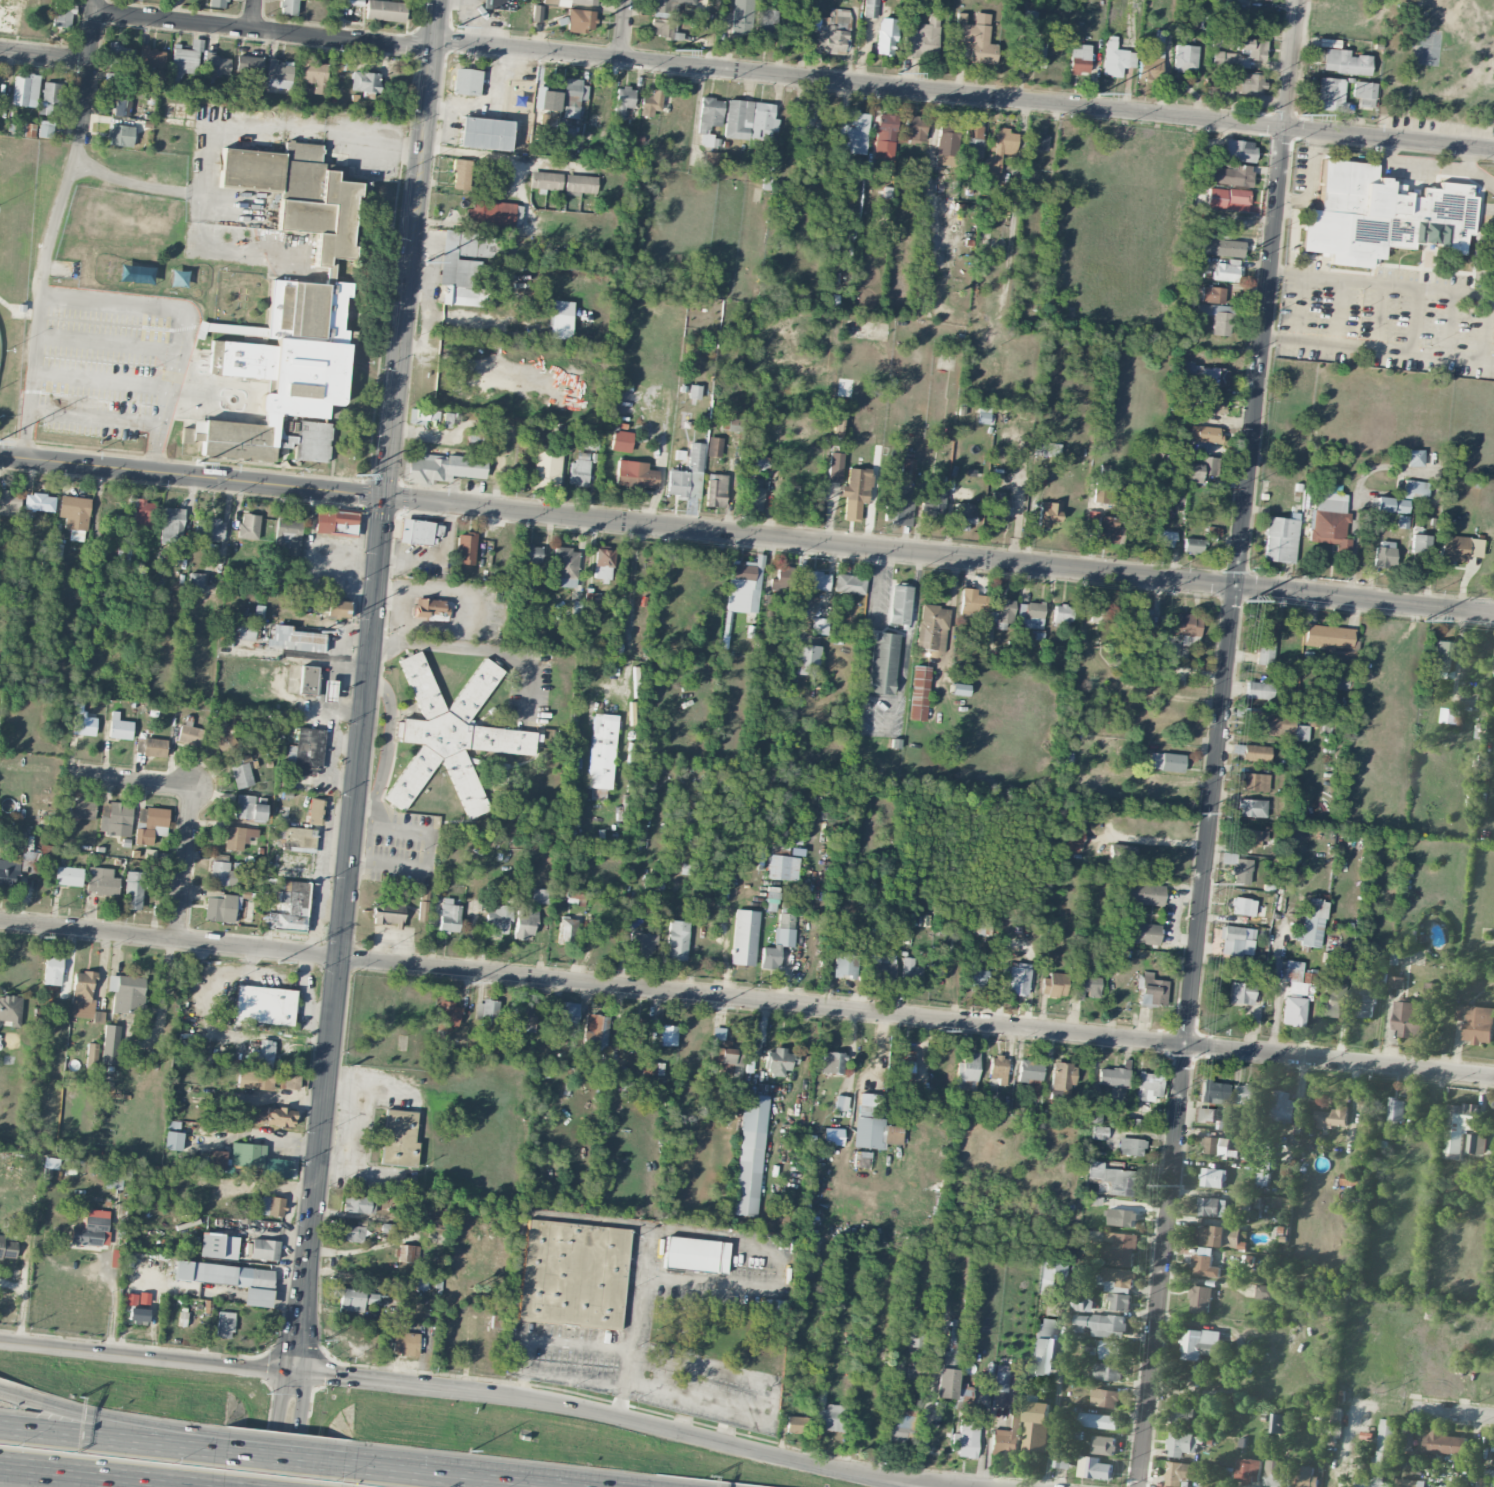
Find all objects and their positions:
building: (22, 2)
building: (568, 2)
building: (216, 3)
building: (788, 3)
building: (501, 4)
building: (288, 7)
building: (664, 7)
building: (871, 8)
building: (385, 10)
building: (537, 13)
building: (62, 14)
road: (254, 15)
building: (741, 17)
building: (1026, 17)
building: (580, 20)
road: (475, 21)
building: (765, 23)
road: (438, 24)
power tower: (446, 25)
building: (662, 27)
road: (624, 29)
building: (832, 31)
road: (265, 32)
building: (886, 36)
building: (922, 38)
building: (976, 39)
power tower: (670, 48)
building: (1255, 50)
building: (120, 54)
building: (1032, 54)
road: (45, 55)
building: (150, 57)
building: (1079, 58)
building: (1185, 58)
building: (1116, 59)
building: (186, 60)
park: (1412, 61)
building: (1344, 62)
building: (216, 64)
building: (250, 64)
road: (89, 65)
building: (1150, 65)
power tower: (897, 72)
building: (278, 74)
building: (314, 75)
building: (365, 81)
building: (466, 81)
building: (1246, 82)
building: (25, 90)
power tower: (1099, 92)
road: (965, 93)
building: (1217, 93)
building: (1364, 93)
building: (1331, 94)
building: (49, 97)
building: (573, 97)
building: (546, 99)
building: (623, 100)
building: (651, 104)
road: (492, 105)
building: (121, 107)
building: (709, 114)
power tower: (1301, 114)
building: (808, 117)
building: (749, 120)
road: (219, 126)
building: (916, 128)
building: (46, 129)
building: (29, 130)
building: (484, 133)
building: (854, 133)
building: (121, 135)
building: (885, 136)
building: (973, 140)
building: (1040, 142)
building: (946, 147)
building: (1239, 150)
building: (999, 151)
road: (506, 158)
road: (1467, 158)
building: (711, 159)
road: (1431, 166)
building: (461, 171)
building: (1230, 175)
road: (1311, 178)
building: (545, 181)
building: (580, 184)
building: (298, 193)
building: (1225, 197)
building: (490, 215)
building: (1382, 215)
building: (1221, 247)
building: (287, 251)
power tower: (422, 258)
building: (459, 271)
road: (1279, 271)
building: (1226, 272)
road: (1354, 280)
road: (420, 287)
road: (1493, 288)
road: (39, 291)
building: (1212, 294)
road: (429, 299)
road: (108, 301)
road: (1297, 307)
building: (1217, 317)
building: (560, 319)
building: (245, 330)
road: (1278, 339)
road: (106, 344)
road: (1394, 351)
building: (285, 374)
building: (1213, 376)
road: (100, 379)
road: (170, 389)
building: (694, 391)
building: (1209, 406)
building: (422, 416)
road: (103, 417)
building: (446, 420)
building: (1205, 434)
building: (621, 441)
building: (590, 442)
building: (714, 446)
building: (1046, 449)
building: (1415, 458)
power tower: (198, 461)
road: (661, 461)
building: (763, 463)
building: (547, 465)
building: (834, 467)
building: (443, 468)
building: (907, 468)
building: (1201, 469)
building: (578, 472)
building: (688, 474)
building: (635, 476)
power tower: (399, 484)
building: (715, 490)
building: (1415, 490)
building: (855, 492)
building: (1104, 494)
building: (755, 496)
traffic signals: (386, 497)
building: (932, 499)
building: (9, 502)
building: (39, 502)
building: (1382, 504)
building: (898, 506)
building: (1401, 506)
building: (997, 507)
road: (1355, 509)
building: (1048, 512)
building: (142, 513)
building: (963, 515)
building: (74, 516)
building: (1329, 522)
building: (335, 523)
building: (248, 526)
building: (171, 527)
building: (209, 528)
building: (1107, 530)
building: (416, 531)
building: (288, 534)
road: (746, 534)
building: (1164, 538)
building: (1280, 539)
building: (1420, 543)
building: (1192, 545)
building: (465, 548)
building: (1457, 549)
building: (532, 553)
building: (125, 554)
building: (1383, 557)
road: (441, 564)
building: (603, 564)
building: (565, 567)
power tower: (1223, 570)
building: (783, 580)
building: (813, 580)
building: (195, 582)
building: (687, 583)
building: (849, 584)
building: (740, 586)
building: (590, 597)
building: (754, 599)
power tower: (1247, 601)
building: (972, 602)
building: (1098, 602)
building: (899, 604)
road: (633, 607)
building: (337, 608)
building: (429, 609)
road: (461, 610)
building: (1001, 610)
building: (1061, 613)
building: (661, 615)
building: (675, 615)
building: (1029, 615)
building: (1140, 619)
power tower: (1423, 620)
building: (819, 626)
building: (932, 627)
building: (1184, 628)
building: (245, 631)
road: (395, 636)
building: (1328, 636)
building: (1264, 639)
building: (295, 640)
road: (470, 649)
building: (1442, 656)
building: (805, 659)
building: (882, 663)
building: (1493, 672)
building: (308, 680)
building: (1341, 682)
building: (959, 689)
building: (1259, 689)
building: (328, 690)
building: (918, 693)
road: (364, 711)
building: (1449, 716)
building: (82, 721)
building: (1273, 724)
building: (1326, 725)
building: (119, 727)
building: (450, 734)
building: (189, 735)
building: (225, 741)
road: (1219, 743)
building: (139, 745)
building: (154, 747)
building: (305, 751)
building: (1255, 753)
building: (601, 754)
building: (243, 758)
building: (1166, 761)
building: (241, 775)
road: (131, 780)
building: (1255, 782)
road: (376, 791)
building: (249, 808)
road: (364, 808)
building: (1252, 808)
building: (80, 809)
building: (314, 811)
power tower: (1197, 812)
building: (114, 818)
building: (690, 818)
building: (143, 836)
building: (238, 837)
building: (296, 837)
building: (1250, 837)
building: (1075, 838)
road: (1158, 840)
road: (368, 844)
building: (1246, 849)
building: (1121, 854)
building: (29, 861)
road: (186, 864)
road: (387, 864)
building: (782, 867)
building: (1238, 868)
building: (8, 872)
building: (222, 874)
building: (68, 876)
building: (101, 881)
power tower: (1215, 884)
building: (133, 890)
building: (1144, 894)
building: (572, 895)
building: (540, 896)
building: (423, 904)
building: (287, 906)
building: (1243, 906)
building: (219, 908)
building: (387, 913)
building: (449, 916)
building: (498, 919)
building: (1312, 922)
building: (524, 924)
building: (566, 930)
building: (1140, 933)
power tower: (41, 937)
building: (744, 937)
building: (677, 940)
building: (1236, 940)
building: (778, 941)
building: (640, 946)
power tower: (278, 961)
building: (844, 965)
building: (879, 967)
building: (1293, 970)
building: (52, 971)
building: (910, 973)
building: (975, 976)
building: (1017, 980)
power tower: (472, 982)
building: (1397, 983)
building: (1053, 985)
building: (1086, 987)
road: (1276, 987)
building: (1152, 990)
building: (1432, 992)
building: (1241, 993)
building: (127, 994)
building: (83, 996)
road: (746, 999)
building: (1333, 1000)
building: (1365, 1003)
building: (264, 1004)
power tower: (714, 1007)
building: (11, 1010)
building: (486, 1011)
building: (1293, 1011)
building: (567, 1013)
building: (447, 1016)
building: (524, 1016)
building: (1409, 1020)
building: (1476, 1023)
power tower: (939, 1030)
building: (596, 1031)
building: (631, 1035)
building: (668, 1035)
building: (111, 1044)
building: (265, 1051)
building: (91, 1053)
power tower: (1170, 1054)
building: (727, 1058)
building: (779, 1061)
building: (831, 1062)
building: (904, 1066)
building: (652, 1068)
building: (998, 1069)
building: (966, 1072)
building: (1030, 1076)
building: (1063, 1076)
building: (1113, 1077)
building: (255, 1080)
building: (288, 1082)
building: (1149, 1086)
road: (369, 1087)
building: (625, 1089)
building: (1213, 1092)
building: (1244, 1094)
building: (840, 1103)
building: (905, 1103)
building: (1283, 1107)
building: (1396, 1110)
building: (1094, 1114)
building: (1204, 1115)
building: (272, 1116)
building: (1332, 1118)
road: (355, 1127)
building: (874, 1128)
building: (1457, 1129)
building: (1099, 1132)
road: (293, 1137)
building: (400, 1137)
building: (173, 1140)
building: (1475, 1144)
building: (1131, 1146)
building: (1216, 1146)
building: (749, 1155)
building: (861, 1158)
building: (255, 1159)
building: (216, 1160)
building: (192, 1163)
road: (363, 1170)
building: (1262, 1176)
building: (116, 1178)
building: (1212, 1178)
building: (1115, 1179)
power tower: (1181, 1188)
building: (356, 1204)
building: (422, 1205)
building: (271, 1206)
building: (1211, 1207)
building: (1122, 1218)
building: (91, 1229)
road: (668, 1229)
building: (350, 1233)
building: (1094, 1235)
building: (1218, 1236)
building: (218, 1245)
building: (7, 1248)
building: (264, 1249)
building: (1122, 1250)
building: (408, 1253)
building: (695, 1253)
building: (1205, 1264)
building: (1050, 1266)
building: (223, 1274)
building: (572, 1274)
building: (1120, 1277)
building: (421, 1283)
building: (1266, 1292)
building: (256, 1297)
building: (130, 1298)
building: (356, 1298)
building: (1201, 1299)
road: (112, 1301)
building: (1120, 1302)
road: (636, 1304)
building: (1082, 1304)
building: (137, 1314)
building: (224, 1324)
building: (1103, 1325)
building: (917, 1339)
building: (405, 1343)
building: (1199, 1344)
building: (1042, 1346)
building: (1113, 1349)
road: (148, 1357)
building: (950, 1363)
building: (1107, 1372)
traffic signals: (297, 1373)
building: (913, 1377)
road: (386, 1382)
road: (521, 1383)
road: (774, 1386)
building: (1000, 1389)
road: (621, 1398)
building: (1106, 1398)
road: (28, 1401)
building: (1068, 1411)
road: (1453, 1414)
building: (1181, 1416)
building: (830, 1417)
road: (634, 1419)
road: (1052, 1419)
building: (1098, 1421)
building: (1336, 1422)
building: (1277, 1423)
building: (797, 1424)
building: (1036, 1427)
road: (108, 1428)
building: (900, 1428)
road: (290, 1430)
road: (79, 1435)
building: (1076, 1435)
building: (1007, 1436)
building: (966, 1438)
building: (1407, 1440)
building: (1444, 1443)
building: (1183, 1444)
building: (1103, 1445)
road: (1345, 1448)
road: (192, 1450)
building: (1381, 1456)
road: (284, 1460)
building: (1062, 1460)
road: (4, 1465)
road: (4, 1465)
building: (1094, 1468)
building: (1248, 1471)
road: (840, 1473)
building: (1182, 1473)
building: (1277, 1474)
road: (87, 1476)
road: (445, 1477)
road: (886, 1477)
building: (1305, 1477)
building: (1409, 1483)

